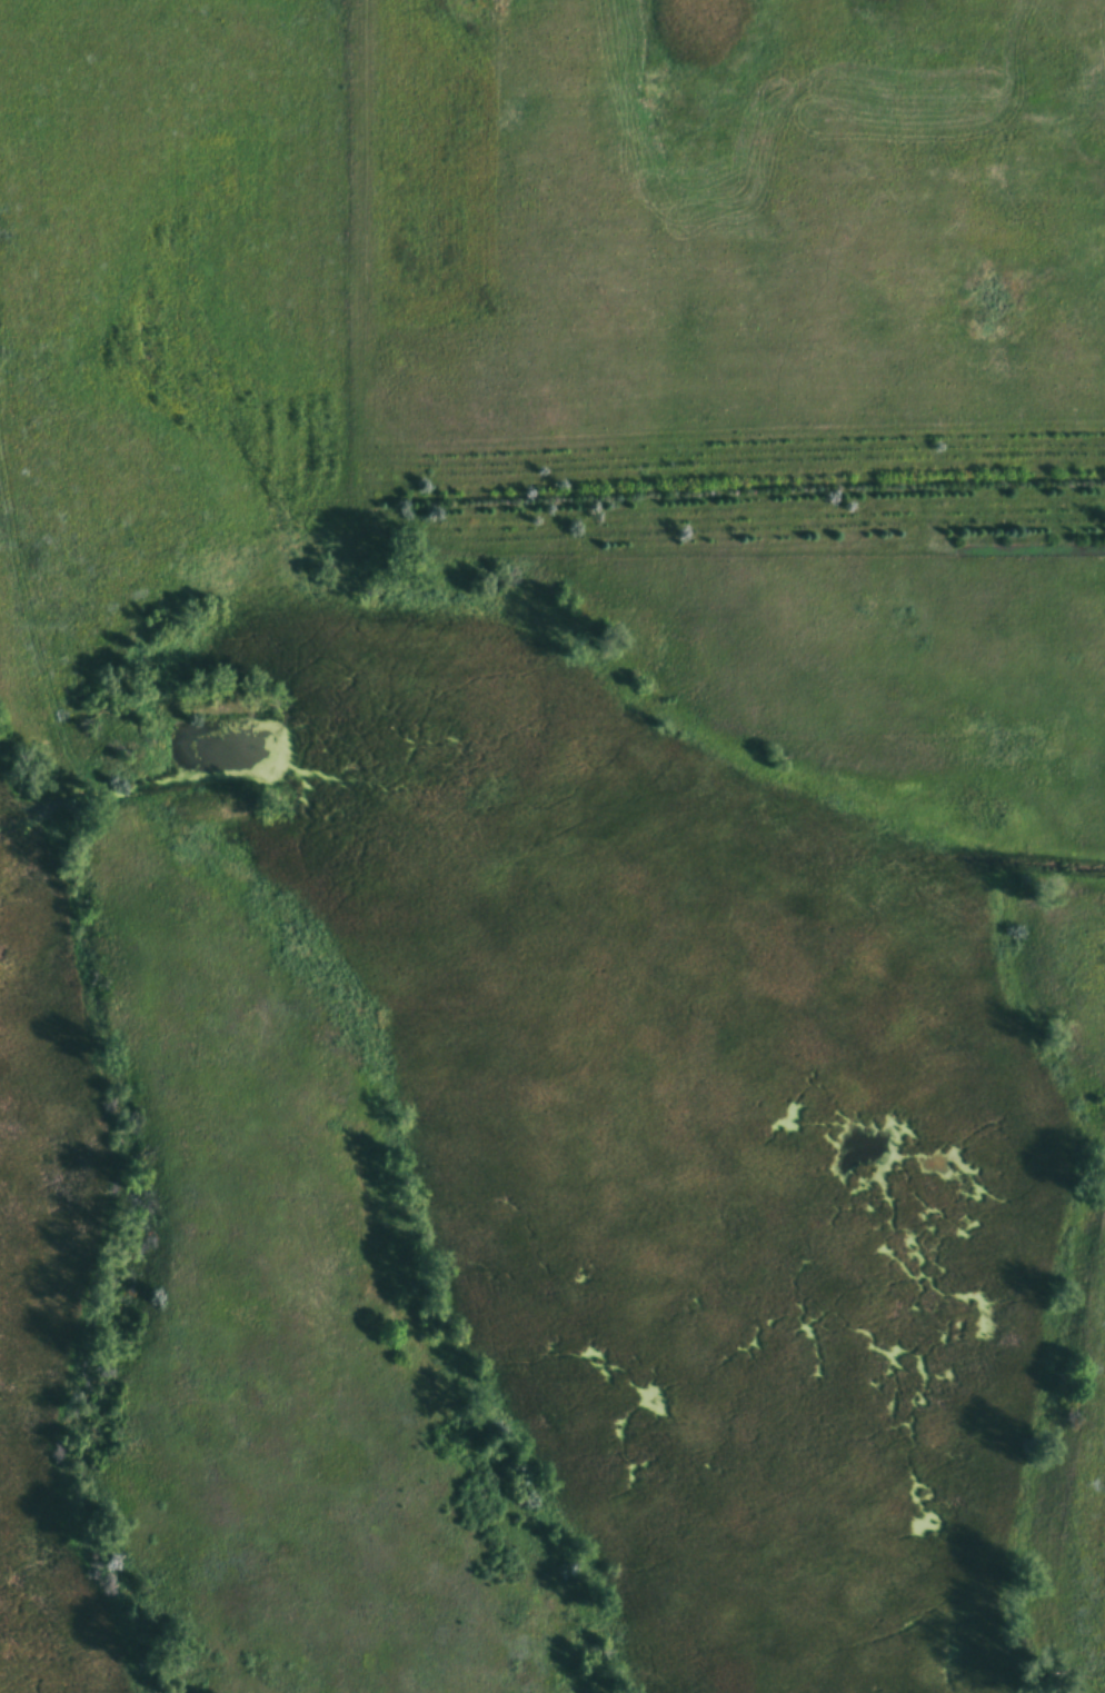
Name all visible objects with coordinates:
river: (828, 889)

